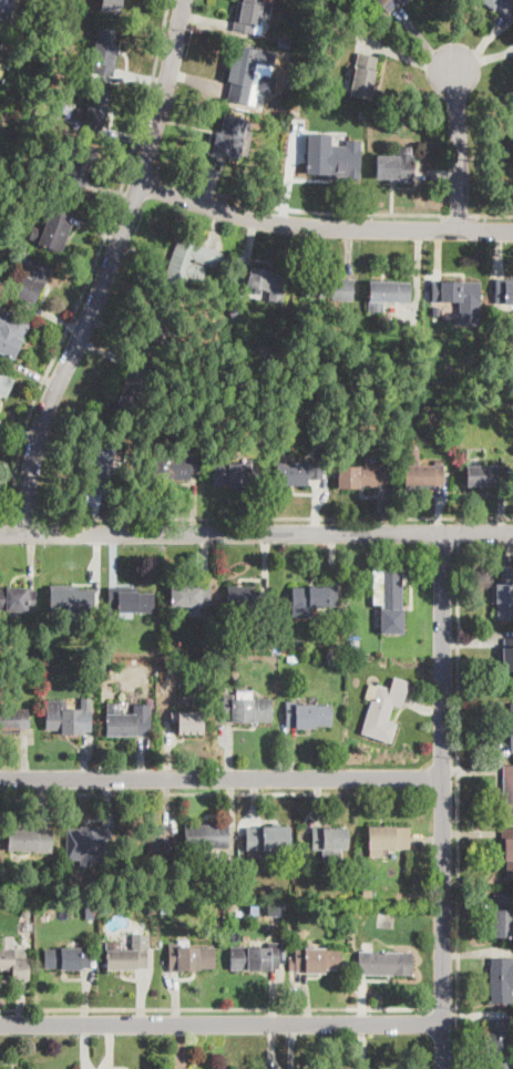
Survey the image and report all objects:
building: (389, 4)
building: (500, 4)
building: (110, 6)
building: (3, 9)
building: (250, 16)
building: (285, 43)
building: (0, 45)
building: (104, 50)
building: (247, 74)
building: (363, 75)
building: (95, 111)
building: (379, 116)
building: (233, 137)
road: (458, 148)
building: (510, 150)
building: (81, 164)
building: (331, 164)
road: (143, 166)
building: (396, 167)
building: (21, 189)
road: (298, 208)
road: (459, 214)
road: (492, 214)
road: (324, 228)
building: (51, 230)
road: (94, 260)
building: (192, 261)
road: (109, 268)
building: (32, 278)
building: (267, 279)
building: (330, 288)
building: (503, 291)
building: (387, 295)
building: (460, 299)
building: (437, 312)
building: (160, 318)
building: (11, 333)
building: (2, 382)
building: (132, 384)
building: (317, 441)
building: (101, 464)
building: (175, 464)
building: (418, 467)
building: (235, 473)
building: (298, 473)
building: (360, 475)
building: (486, 475)
road: (7, 517)
road: (27, 517)
road: (277, 517)
road: (460, 530)
road: (256, 533)
building: (504, 596)
building: (189, 597)
building: (246, 598)
building: (389, 598)
building: (18, 599)
building: (72, 600)
building: (311, 600)
building: (126, 603)
building: (353, 627)
building: (98, 636)
building: (353, 646)
building: (215, 649)
building: (507, 656)
building: (293, 659)
building: (223, 664)
building: (103, 666)
road: (422, 705)
building: (246, 709)
building: (383, 709)
building: (66, 716)
building: (307, 716)
building: (13, 720)
building: (122, 722)
building: (189, 722)
building: (511, 726)
road: (219, 777)
road: (216, 792)
road: (444, 792)
building: (507, 792)
road: (441, 801)
road: (459, 805)
building: (206, 837)
building: (146, 839)
building: (268, 840)
building: (387, 840)
building: (29, 841)
building: (329, 841)
building: (86, 843)
building: (507, 849)
building: (301, 857)
building: (367, 893)
building: (27, 906)
building: (163, 908)
building: (89, 911)
building: (503, 914)
building: (11, 956)
building: (196, 957)
building: (255, 957)
building: (66, 958)
building: (126, 959)
building: (315, 960)
building: (386, 964)
building: (501, 979)
road: (444, 1007)
road: (214, 1008)
road: (222, 1022)
building: (499, 1045)

